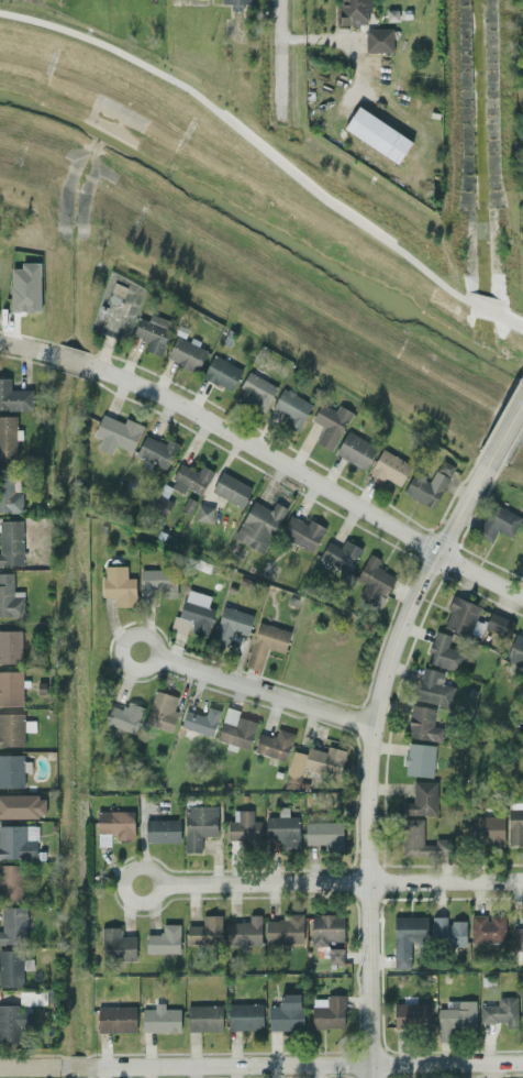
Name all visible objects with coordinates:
building: (235, 3)
building: (355, 11)
road: (340, 36)
building: (378, 38)
road: (276, 57)
building: (377, 133)
road: (247, 135)
river: (264, 232)
building: (24, 287)
road: (483, 306)
road: (509, 317)
building: (153, 331)
road: (29, 351)
building: (186, 352)
road: (69, 360)
building: (221, 372)
building: (256, 389)
building: (13, 396)
building: (289, 407)
road: (507, 421)
building: (330, 424)
building: (115, 432)
building: (8, 436)
building: (355, 449)
building: (155, 450)
building: (389, 466)
road: (303, 476)
building: (189, 479)
building: (429, 484)
building: (10, 488)
building: (231, 488)
building: (203, 513)
building: (498, 521)
building: (257, 524)
building: (302, 532)
building: (10, 541)
building: (340, 553)
building: (155, 583)
building: (118, 584)
building: (10, 596)
building: (193, 612)
building: (459, 615)
building: (497, 623)
building: (230, 624)
building: (265, 642)
building: (10, 646)
road: (155, 647)
building: (515, 651)
building: (443, 652)
building: (10, 686)
building: (433, 687)
road: (261, 692)
building: (162, 711)
building: (130, 716)
building: (200, 721)
building: (422, 723)
building: (13, 727)
building: (235, 728)
building: (274, 744)
road: (367, 750)
building: (419, 759)
building: (312, 763)
building: (13, 770)
building: (421, 799)
building: (21, 805)
building: (198, 824)
building: (113, 825)
building: (243, 826)
building: (514, 826)
building: (282, 828)
building: (487, 828)
building: (162, 829)
building: (324, 834)
building: (18, 840)
building: (421, 840)
road: (152, 870)
building: (11, 881)
road: (341, 882)
building: (12, 924)
building: (325, 927)
building: (487, 927)
building: (283, 930)
building: (204, 931)
building: (244, 931)
building: (447, 931)
building: (407, 937)
building: (164, 938)
building: (516, 938)
building: (115, 944)
building: (334, 955)
building: (12, 967)
building: (327, 1011)
building: (500, 1011)
building: (285, 1012)
building: (410, 1014)
building: (244, 1015)
building: (203, 1016)
building: (455, 1016)
building: (115, 1018)
building: (159, 1019)
building: (12, 1021)
road: (308, 1063)
road: (31, 1066)
road: (77, 1066)
road: (489, 1069)

